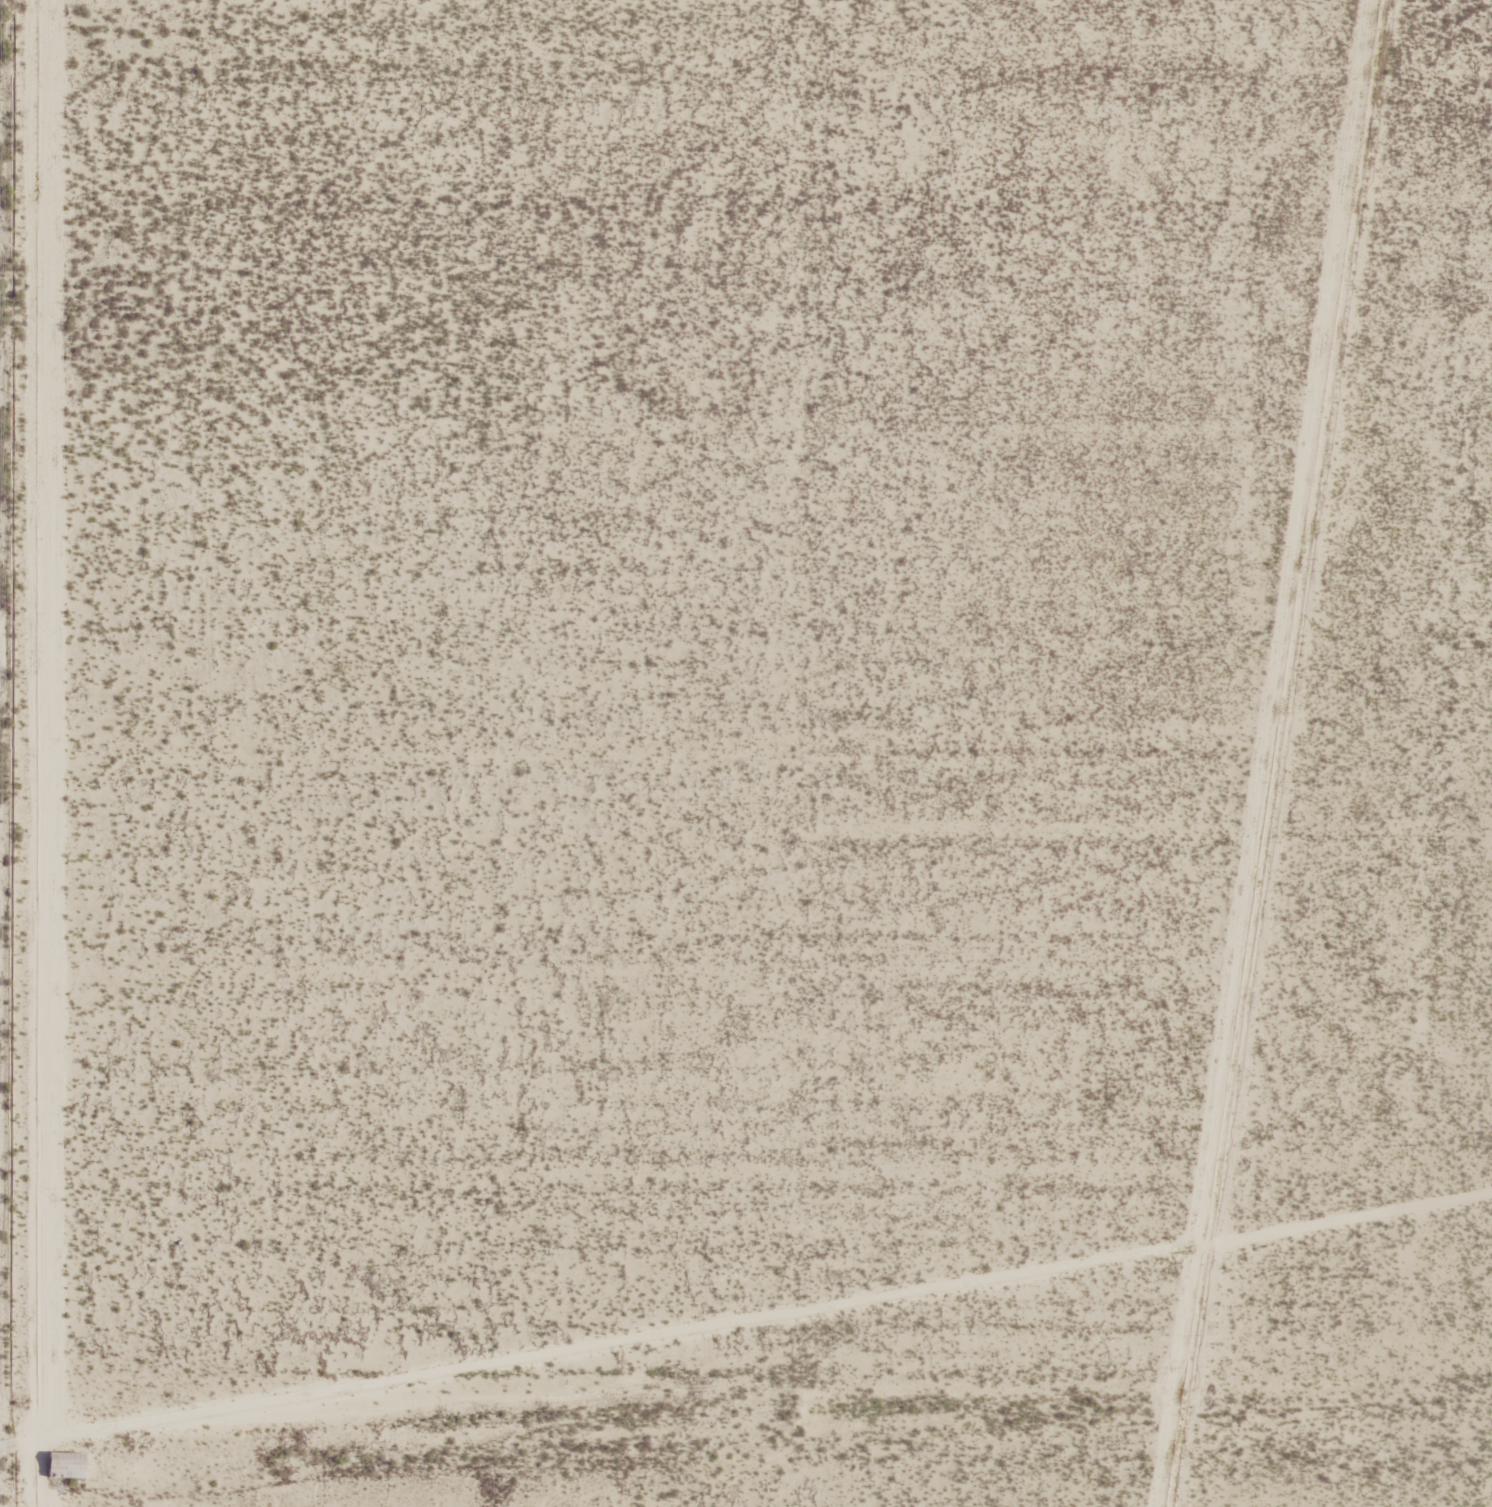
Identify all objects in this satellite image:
road: (747, 1404)

